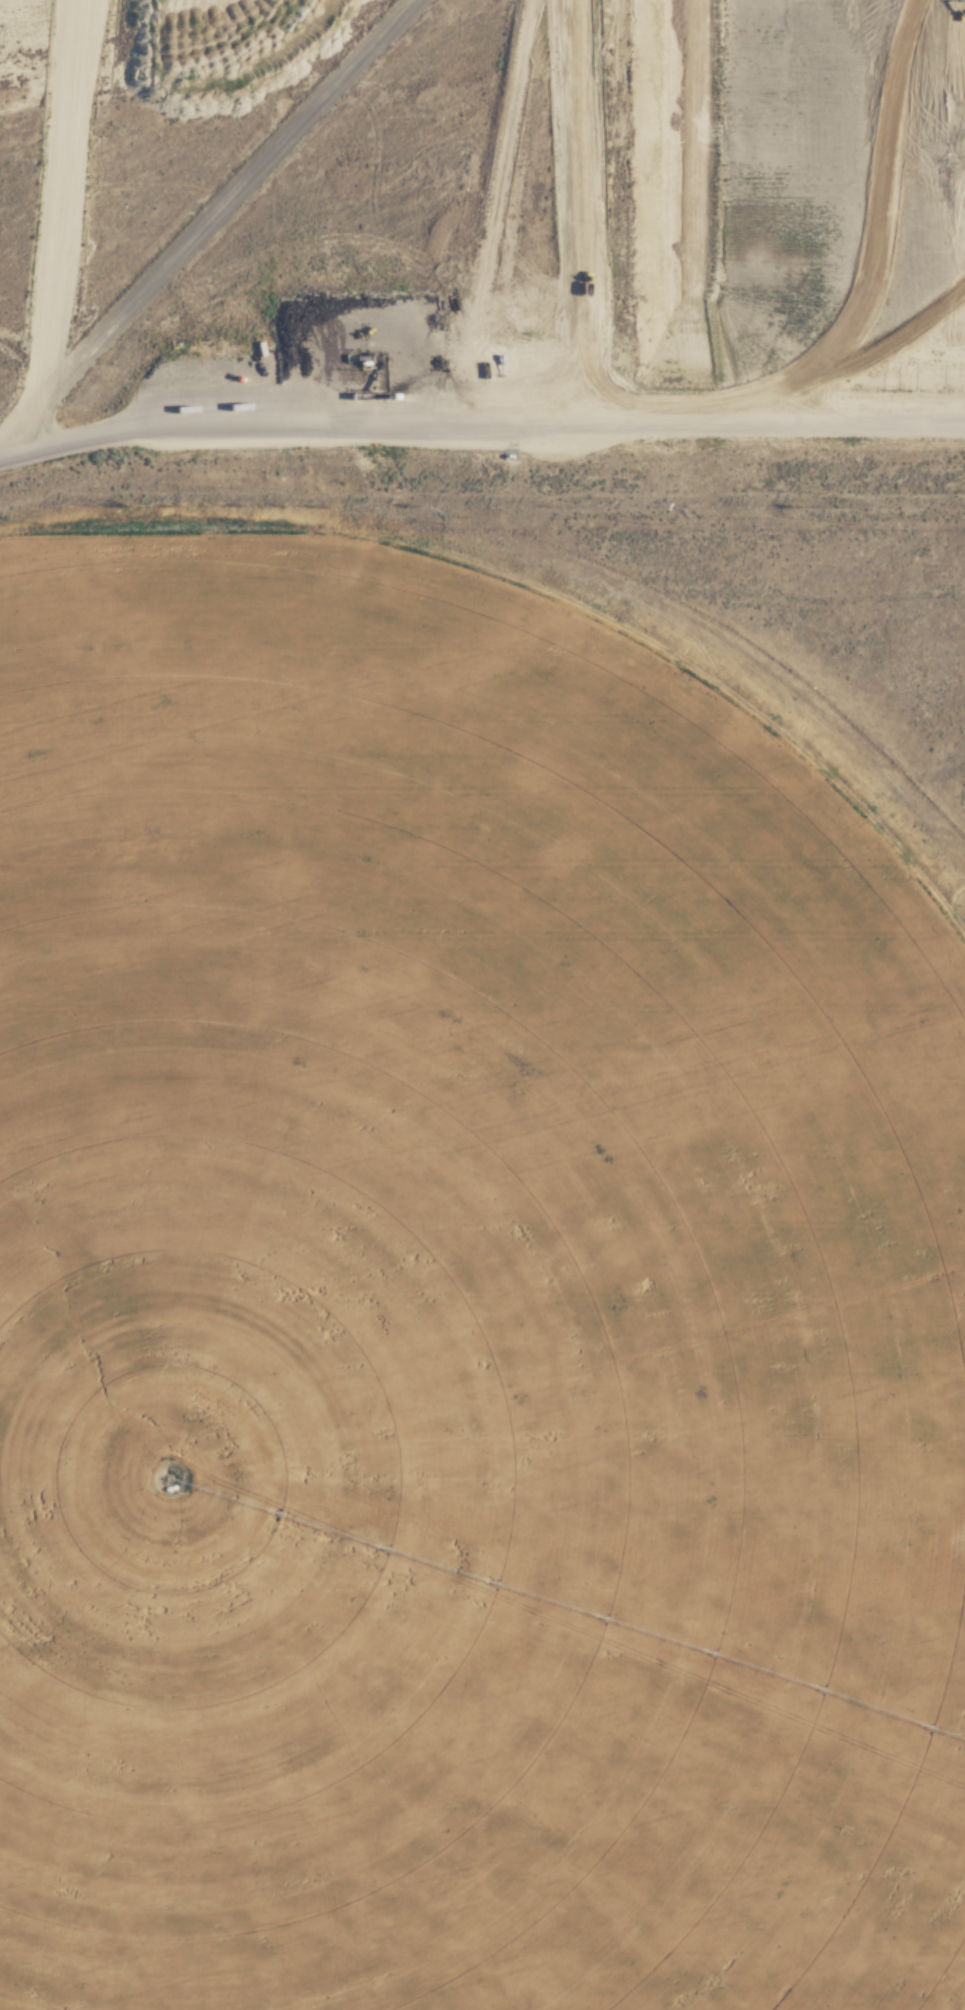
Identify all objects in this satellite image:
crop: (462, 1337)

